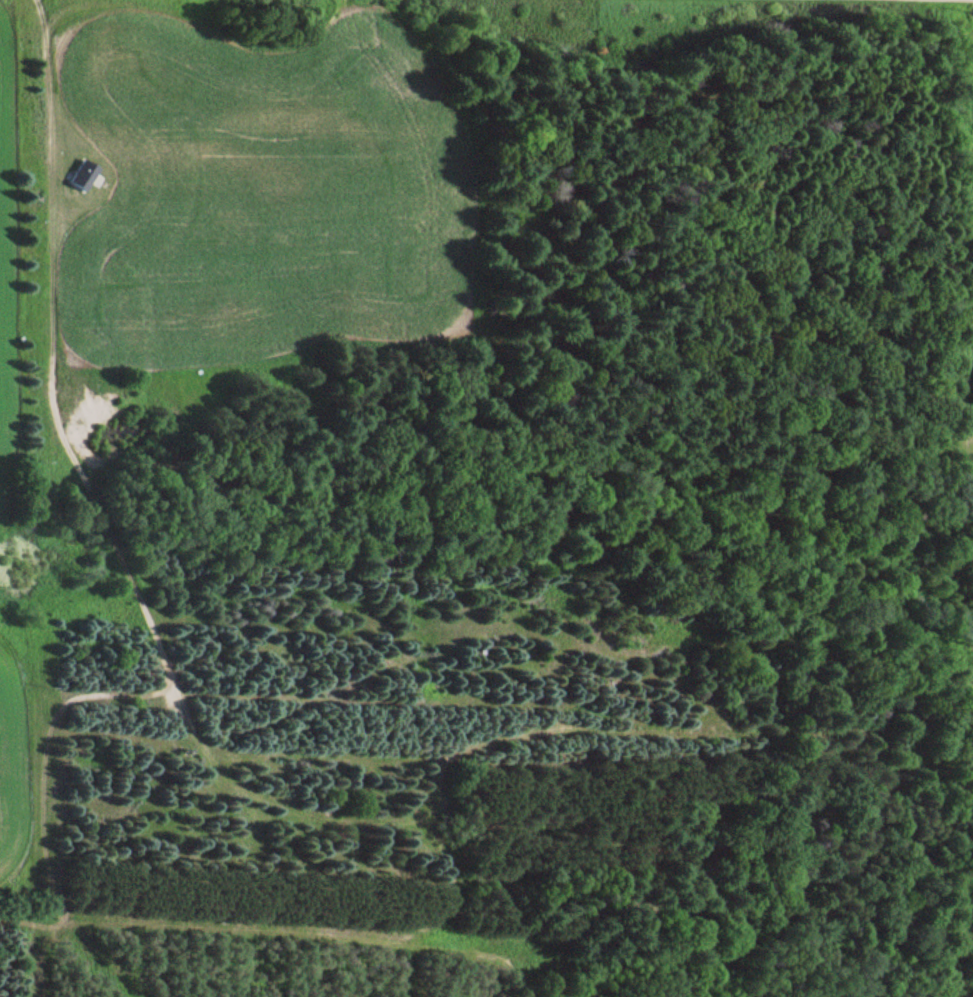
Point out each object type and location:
building: (86, 176)

